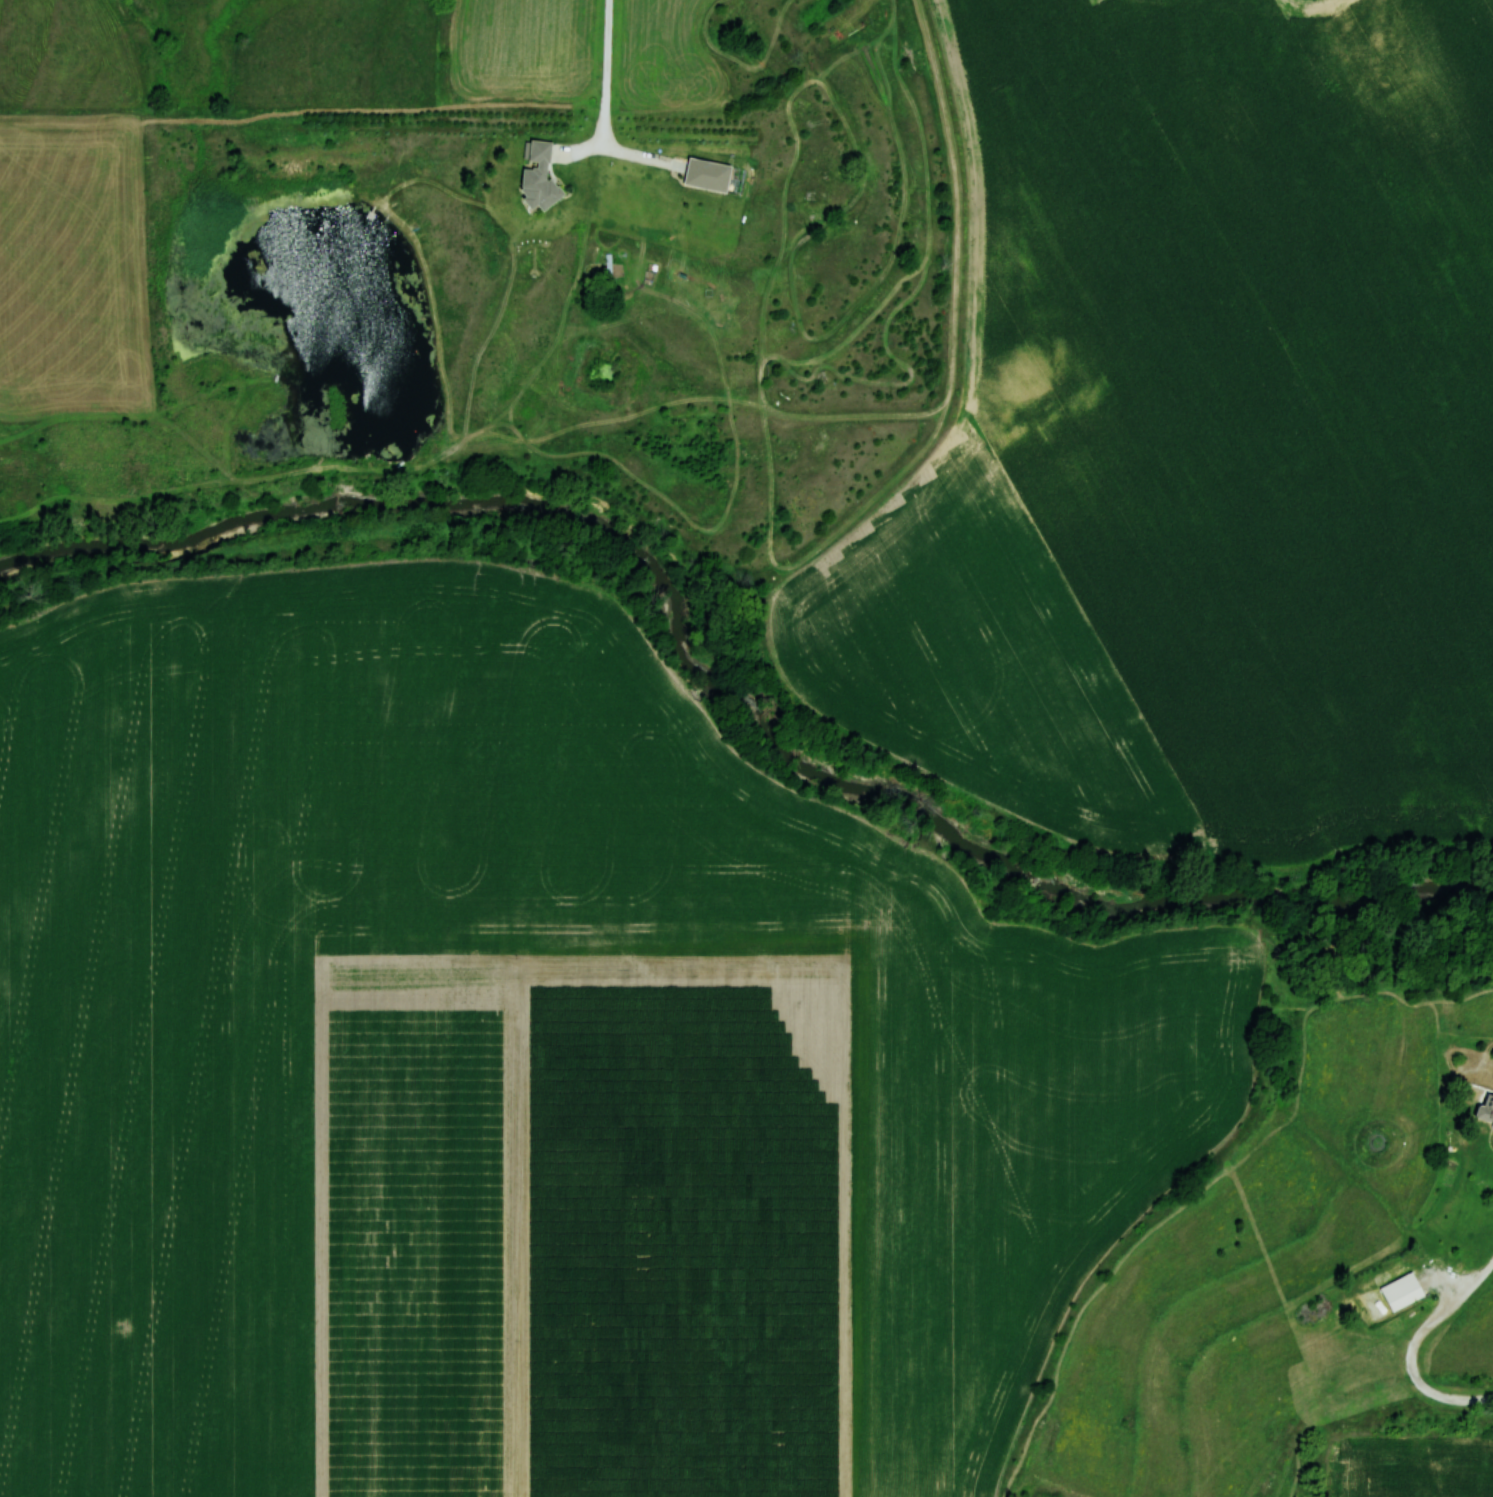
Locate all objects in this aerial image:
building: (1485, 1110)
building: (1401, 1291)

